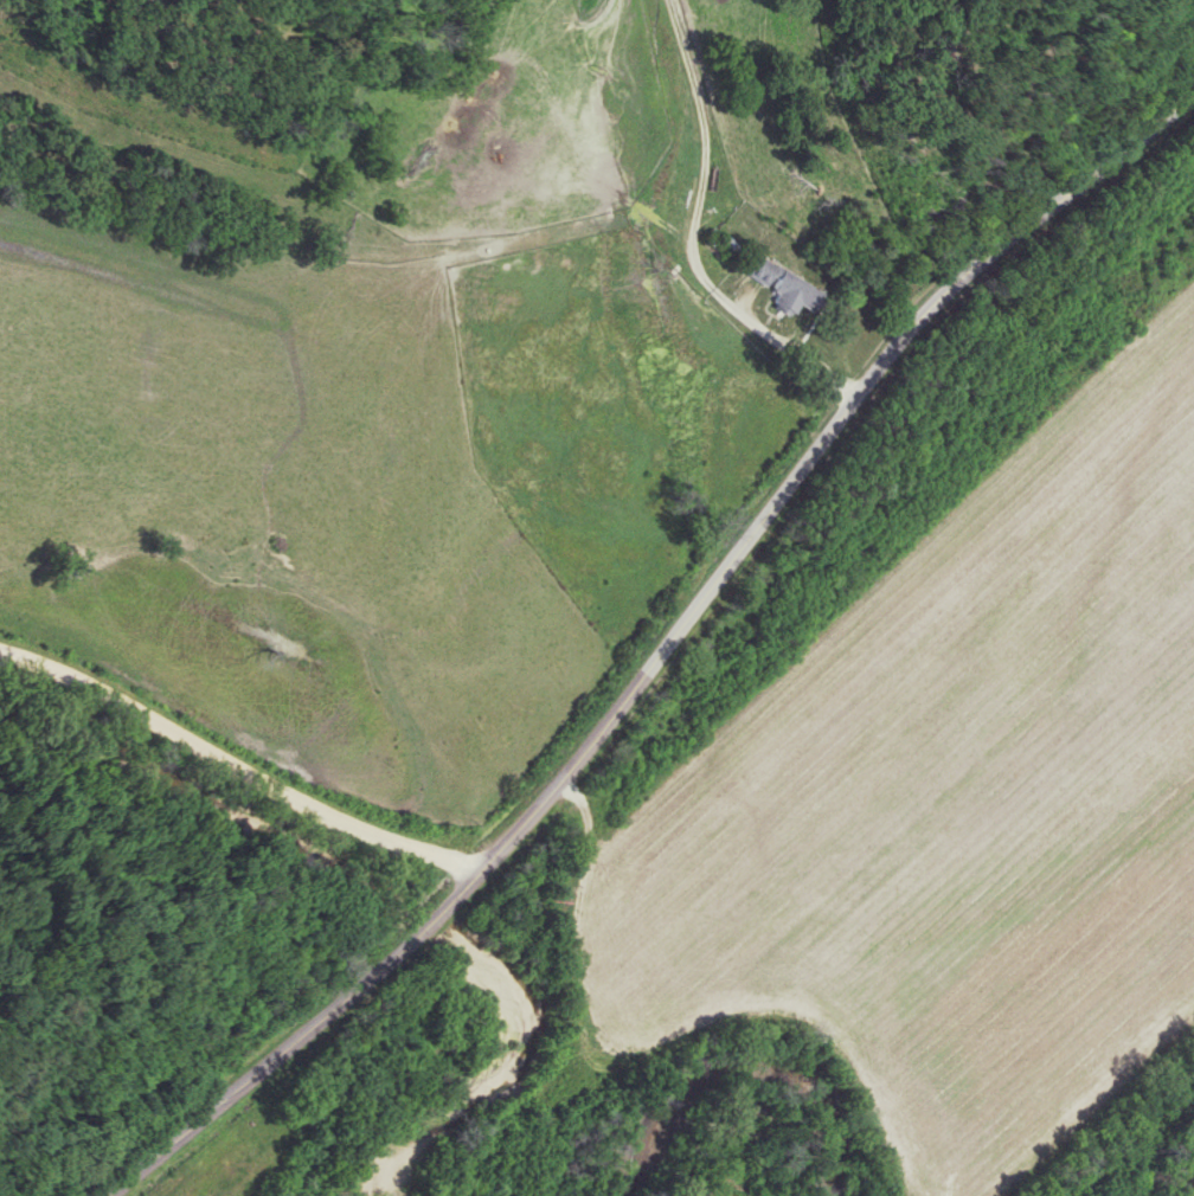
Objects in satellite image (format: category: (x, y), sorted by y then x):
road: (691, 236)
building: (759, 270)
building: (790, 292)
road: (813, 463)
road: (229, 766)
crop: (945, 811)
road: (290, 1036)

